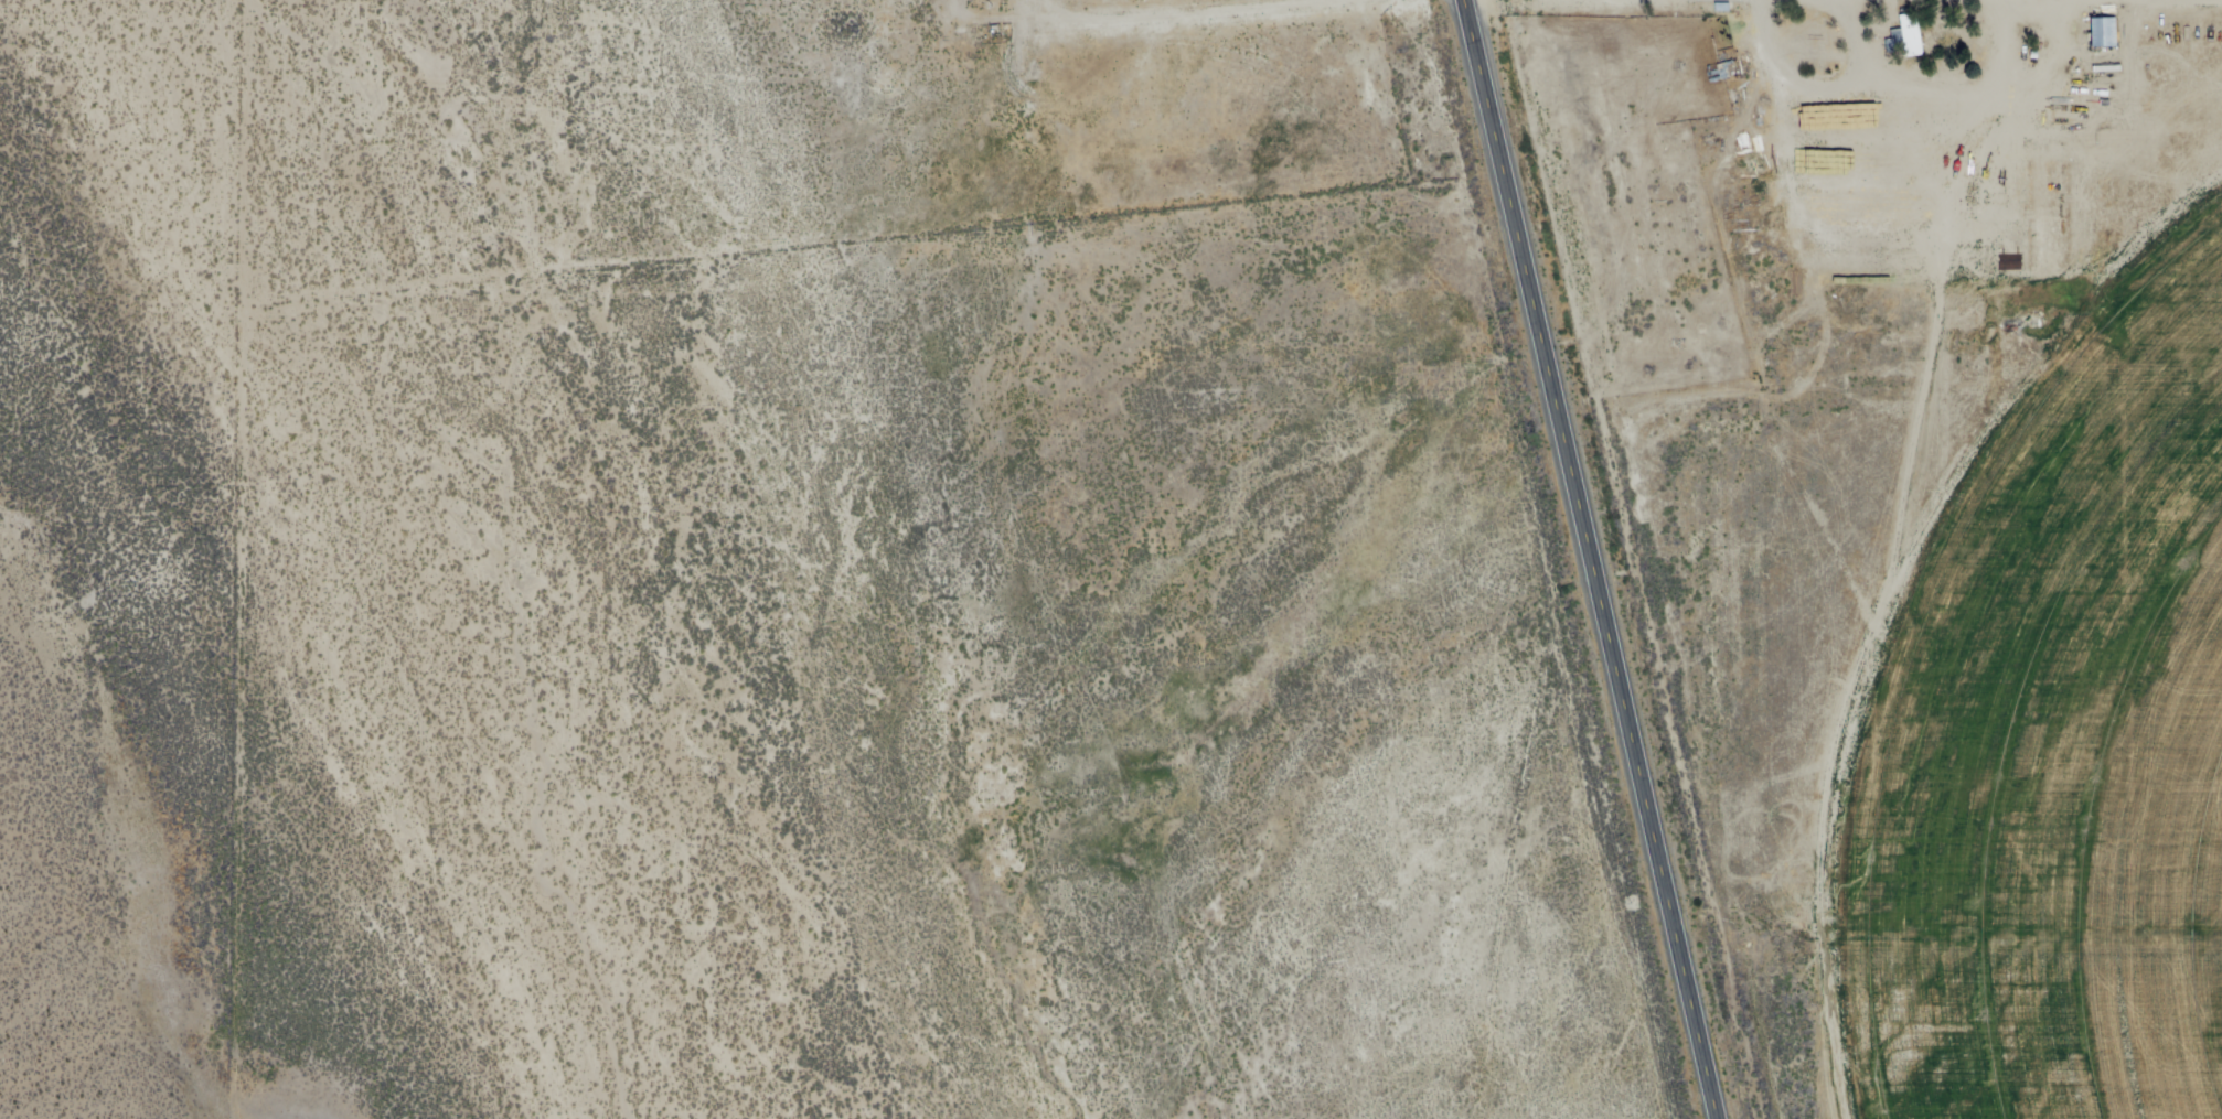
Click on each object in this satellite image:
road: (2096, 3)
building: (1722, 10)
road: (1201, 14)
building: (2104, 36)
building: (1913, 40)
building: (1724, 75)
building: (2041, 197)
road: (1592, 559)
crop: (1986, 731)

